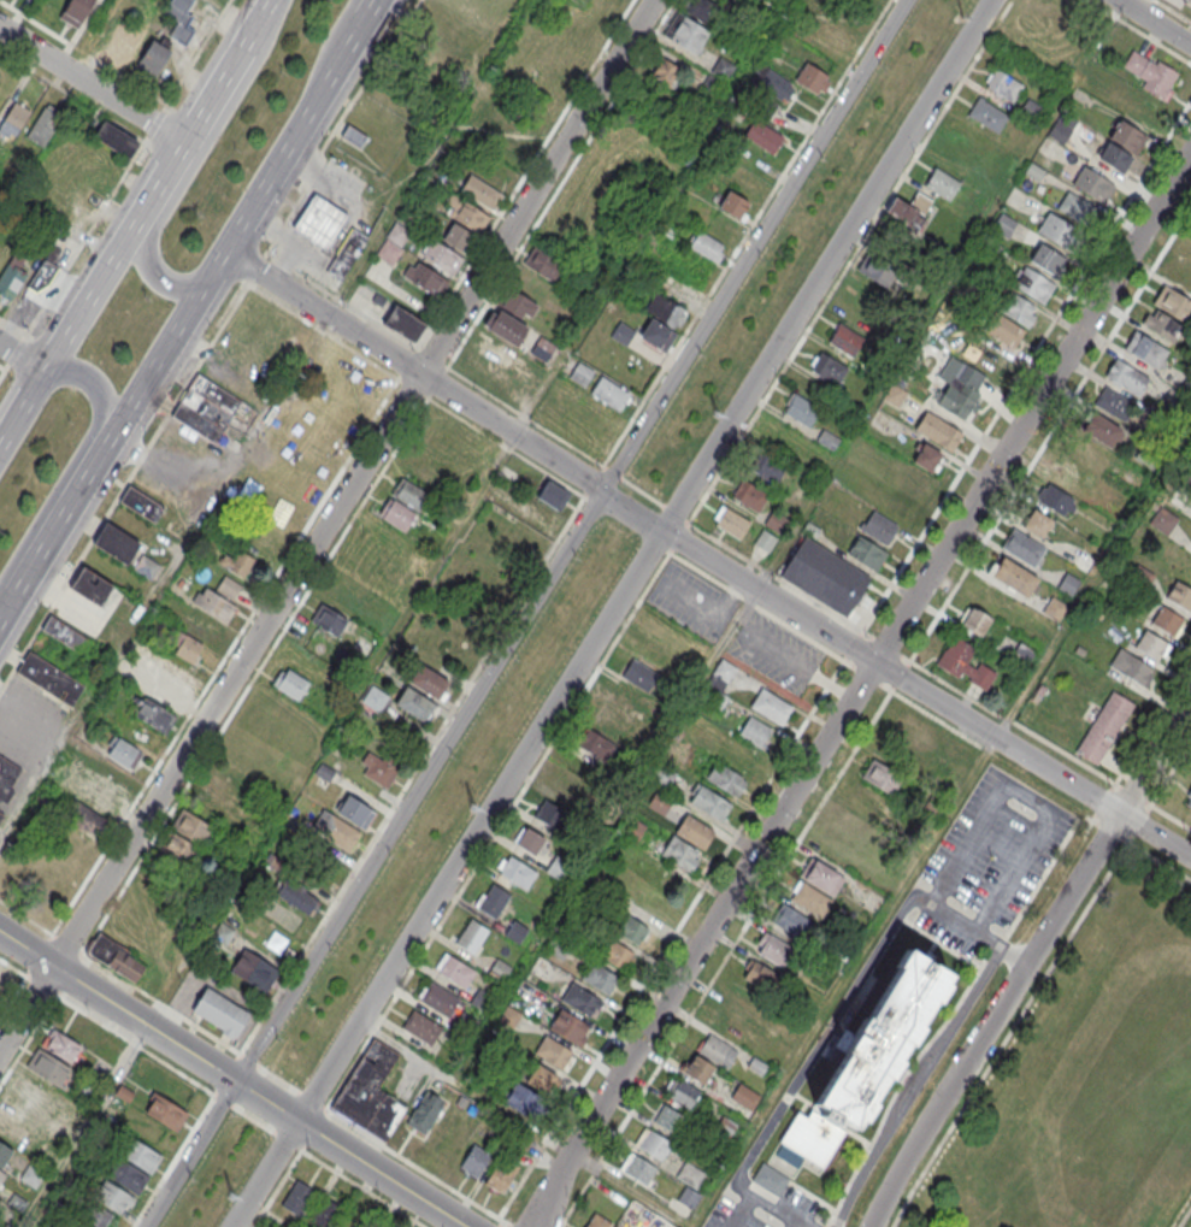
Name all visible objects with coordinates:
building: (1186, 2)
building: (703, 10)
building: (75, 11)
road: (258, 16)
road: (367, 16)
building: (178, 19)
power tower: (955, 20)
road: (1154, 22)
building: (685, 31)
building: (838, 35)
building: (126, 37)
road: (326, 52)
building: (153, 57)
road: (190, 61)
building: (723, 70)
building: (665, 71)
building: (1149, 72)
building: (813, 81)
road: (92, 85)
building: (774, 85)
building: (1003, 87)
road: (208, 100)
building: (986, 116)
building: (14, 118)
building: (43, 126)
building: (354, 136)
building: (1127, 136)
building: (763, 137)
building: (116, 140)
building: (1114, 155)
road: (194, 164)
building: (942, 184)
building: (1093, 185)
building: (426, 187)
building: (482, 191)
building: (733, 206)
building: (912, 210)
building: (1077, 211)
building: (465, 213)
building: (319, 224)
building: (1003, 225)
building: (1059, 232)
building: (459, 237)
building: (393, 243)
building: (706, 247)
building: (346, 255)
building: (442, 256)
building: (543, 262)
building: (1049, 262)
road: (219, 264)
building: (877, 267)
building: (42, 275)
building: (11, 278)
building: (426, 278)
building: (1032, 287)
road: (82, 301)
building: (519, 305)
building: (1173, 305)
building: (1019, 311)
building: (403, 323)
building: (1162, 324)
building: (505, 326)
building: (1004, 329)
building: (621, 332)
building: (658, 338)
building: (847, 342)
building: (543, 348)
building: (1146, 350)
building: (494, 352)
road: (19, 356)
building: (827, 370)
building: (580, 373)
building: (1127, 378)
road: (1016, 381)
building: (962, 389)
building: (609, 395)
building: (894, 395)
building: (1114, 403)
building: (206, 408)
power tower: (715, 411)
building: (802, 412)
road: (261, 420)
building: (1099, 431)
building: (938, 433)
building: (328, 440)
building: (925, 456)
road: (76, 459)
building: (314, 461)
building: (767, 468)
building: (425, 472)
building: (1068, 472)
road: (352, 483)
building: (552, 492)
building: (411, 494)
road: (1013, 494)
building: (750, 497)
building: (1057, 501)
building: (140, 503)
building: (396, 513)
building: (535, 513)
building: (776, 521)
building: (1163, 521)
building: (1037, 523)
building: (732, 525)
building: (878, 526)
road: (786, 538)
building: (765, 541)
building: (117, 542)
building: (1024, 548)
road: (43, 549)
building: (866, 551)
road: (707, 558)
building: (238, 561)
building: (1084, 562)
building: (146, 566)
building: (824, 576)
building: (1014, 579)
building: (90, 585)
building: (1068, 585)
parking lot: (691, 597)
building: (1180, 597)
building: (214, 603)
building: (1055, 610)
road: (524, 613)
road: (611, 613)
road: (5, 614)
building: (974, 620)
building: (1168, 623)
building: (200, 626)
building: (664, 630)
building: (66, 633)
building: (1151, 647)
parking lot: (774, 650)
building: (1022, 655)
building: (184, 662)
building: (965, 663)
building: (1130, 667)
building: (724, 669)
building: (641, 676)
building: (49, 678)
building: (290, 682)
building: (429, 682)
road: (857, 688)
building: (161, 691)
building: (375, 698)
building: (415, 703)
building: (771, 706)
building: (613, 709)
building: (154, 714)
road: (1152, 721)
parking lot: (28, 722)
building: (913, 727)
building: (1104, 730)
building: (754, 731)
building: (596, 744)
road: (1050, 745)
building: (123, 753)
building: (961, 761)
building: (379, 772)
building: (7, 777)
building: (882, 777)
building: (725, 779)
building: (224, 792)
road: (1026, 796)
building: (709, 802)
building: (1187, 803)
building: (92, 806)
power tower: (472, 807)
building: (356, 810)
building: (549, 812)
building: (0, 815)
road: (941, 825)
building: (335, 830)
building: (694, 831)
building: (183, 839)
building: (530, 840)
building: (680, 854)
parking lot: (987, 861)
building: (518, 872)
building: (820, 875)
building: (297, 896)
building: (809, 898)
building: (493, 899)
building: (791, 921)
building: (630, 930)
building: (472, 936)
building: (556, 946)
building: (773, 949)
road: (25, 950)
building: (615, 955)
building: (116, 957)
road: (1027, 961)
road: (16, 967)
building: (254, 968)
building: (456, 971)
building: (759, 975)
building: (5, 977)
building: (599, 978)
road: (42, 984)
road: (853, 990)
building: (1, 995)
park: (1190, 996)
building: (440, 998)
building: (582, 999)
road: (1027, 1002)
road: (25, 1008)
building: (219, 1010)
road: (92, 1016)
building: (423, 1027)
building: (568, 1027)
road: (135, 1044)
building: (63, 1045)
building: (110, 1045)
building: (717, 1050)
building: (555, 1052)
building: (865, 1058)
road: (257, 1064)
building: (48, 1066)
building: (697, 1068)
building: (541, 1078)
park: (1086, 1081)
building: (33, 1091)
building: (370, 1091)
building: (680, 1091)
building: (744, 1096)
road: (258, 1097)
building: (523, 1099)
building: (166, 1111)
building: (425, 1111)
building: (670, 1119)
road: (520, 1123)
road: (84, 1127)
building: (12, 1131)
road: (282, 1137)
building: (653, 1143)
building: (5, 1155)
building: (141, 1155)
building: (476, 1160)
building: (637, 1167)
building: (1, 1174)
building: (500, 1174)
building: (690, 1174)
building: (31, 1175)
building: (128, 1175)
building: (770, 1178)
building: (113, 1196)
power tower: (231, 1197)
building: (297, 1197)
road: (756, 1199)
building: (14, 1203)
building: (324, 1213)
parking lot: (732, 1215)
building: (95, 1216)
road: (1185, 1217)
building: (597, 1221)
road: (792, 1223)
road: (801, 1223)

